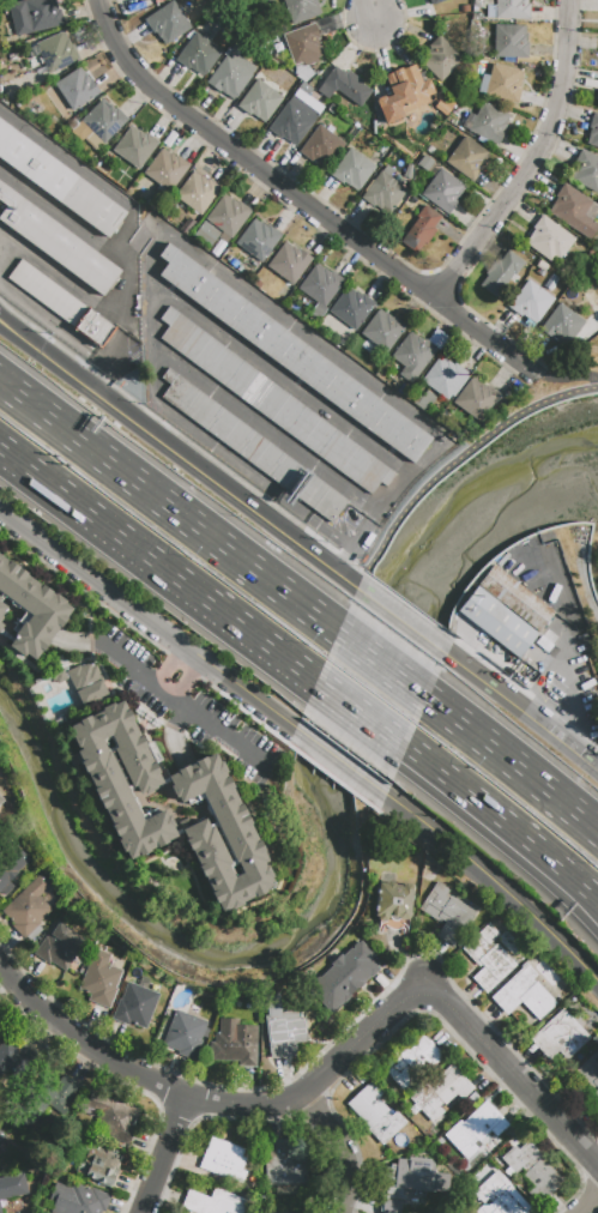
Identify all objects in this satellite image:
building: (135, 0)
building: (140, 0)
building: (436, 1)
building: (302, 10)
building: (512, 10)
road: (368, 11)
building: (35, 16)
building: (168, 23)
building: (509, 42)
building: (304, 46)
building: (56, 52)
building: (198, 54)
building: (441, 59)
building: (231, 74)
building: (289, 78)
building: (502, 83)
building: (591, 83)
building: (345, 86)
building: (77, 89)
building: (304, 89)
building: (404, 95)
building: (260, 101)
building: (597, 102)
building: (104, 121)
building: (294, 121)
building: (487, 123)
building: (73, 125)
building: (593, 132)
building: (80, 135)
building: (170, 139)
building: (135, 146)
building: (322, 146)
building: (16, 150)
building: (431, 150)
building: (467, 158)
building: (425, 163)
road: (531, 163)
building: (167, 170)
building: (352, 170)
building: (586, 171)
road: (90, 174)
building: (50, 176)
building: (443, 191)
building: (197, 192)
building: (385, 193)
building: (93, 207)
road: (304, 207)
building: (574, 211)
road: (62, 215)
building: (229, 217)
building: (422, 227)
building: (207, 233)
building: (258, 240)
building: (549, 240)
building: (55, 242)
building: (290, 262)
building: (234, 264)
building: (542, 267)
building: (240, 270)
road: (55, 272)
building: (501, 273)
building: (551, 283)
building: (258, 284)
building: (320, 288)
building: (47, 294)
building: (532, 302)
building: (351, 308)
road: (52, 321)
road: (284, 322)
building: (562, 324)
building: (95, 328)
road: (127, 328)
building: (383, 330)
building: (416, 354)
building: (295, 356)
road: (168, 360)
road: (62, 363)
building: (372, 363)
building: (446, 378)
building: (404, 391)
road: (550, 391)
building: (476, 399)
building: (271, 400)
building: (425, 402)
building: (235, 435)
road: (458, 460)
building: (321, 499)
road: (244, 501)
road: (170, 511)
road: (342, 559)
building: (505, 563)
road: (159, 567)
building: (463, 580)
building: (517, 598)
building: (0, 599)
building: (1, 608)
building: (31, 608)
road: (149, 618)
road: (401, 620)
building: (499, 622)
building: (0, 624)
building: (544, 645)
road: (169, 664)
road: (381, 666)
building: (59, 677)
road: (189, 678)
building: (87, 683)
road: (572, 689)
road: (169, 694)
road: (511, 699)
road: (360, 714)
road: (340, 758)
road: (590, 758)
road: (509, 766)
building: (122, 778)
building: (261, 783)
building: (1, 801)
road: (400, 801)
road: (482, 810)
building: (222, 834)
building: (10, 863)
road: (581, 891)
road: (581, 897)
road: (509, 898)
building: (393, 901)
building: (26, 910)
building: (448, 912)
building: (59, 947)
building: (488, 960)
building: (101, 979)
building: (338, 983)
building: (524, 995)
building: (135, 1004)
building: (0, 1026)
building: (284, 1030)
building: (187, 1034)
building: (561, 1037)
building: (235, 1043)
building: (14, 1060)
building: (412, 1060)
road: (328, 1068)
building: (590, 1072)
building: (440, 1093)
building: (53, 1098)
building: (593, 1100)
building: (375, 1112)
building: (113, 1118)
building: (475, 1129)
building: (1, 1136)
road: (342, 1147)
road: (167, 1155)
building: (223, 1159)
building: (284, 1165)
building: (98, 1166)
building: (533, 1171)
building: (415, 1177)
building: (12, 1188)
building: (501, 1195)
building: (78, 1200)
building: (213, 1202)
road: (588, 1205)
building: (391, 1207)
building: (271, 1212)
building: (457, 1212)

